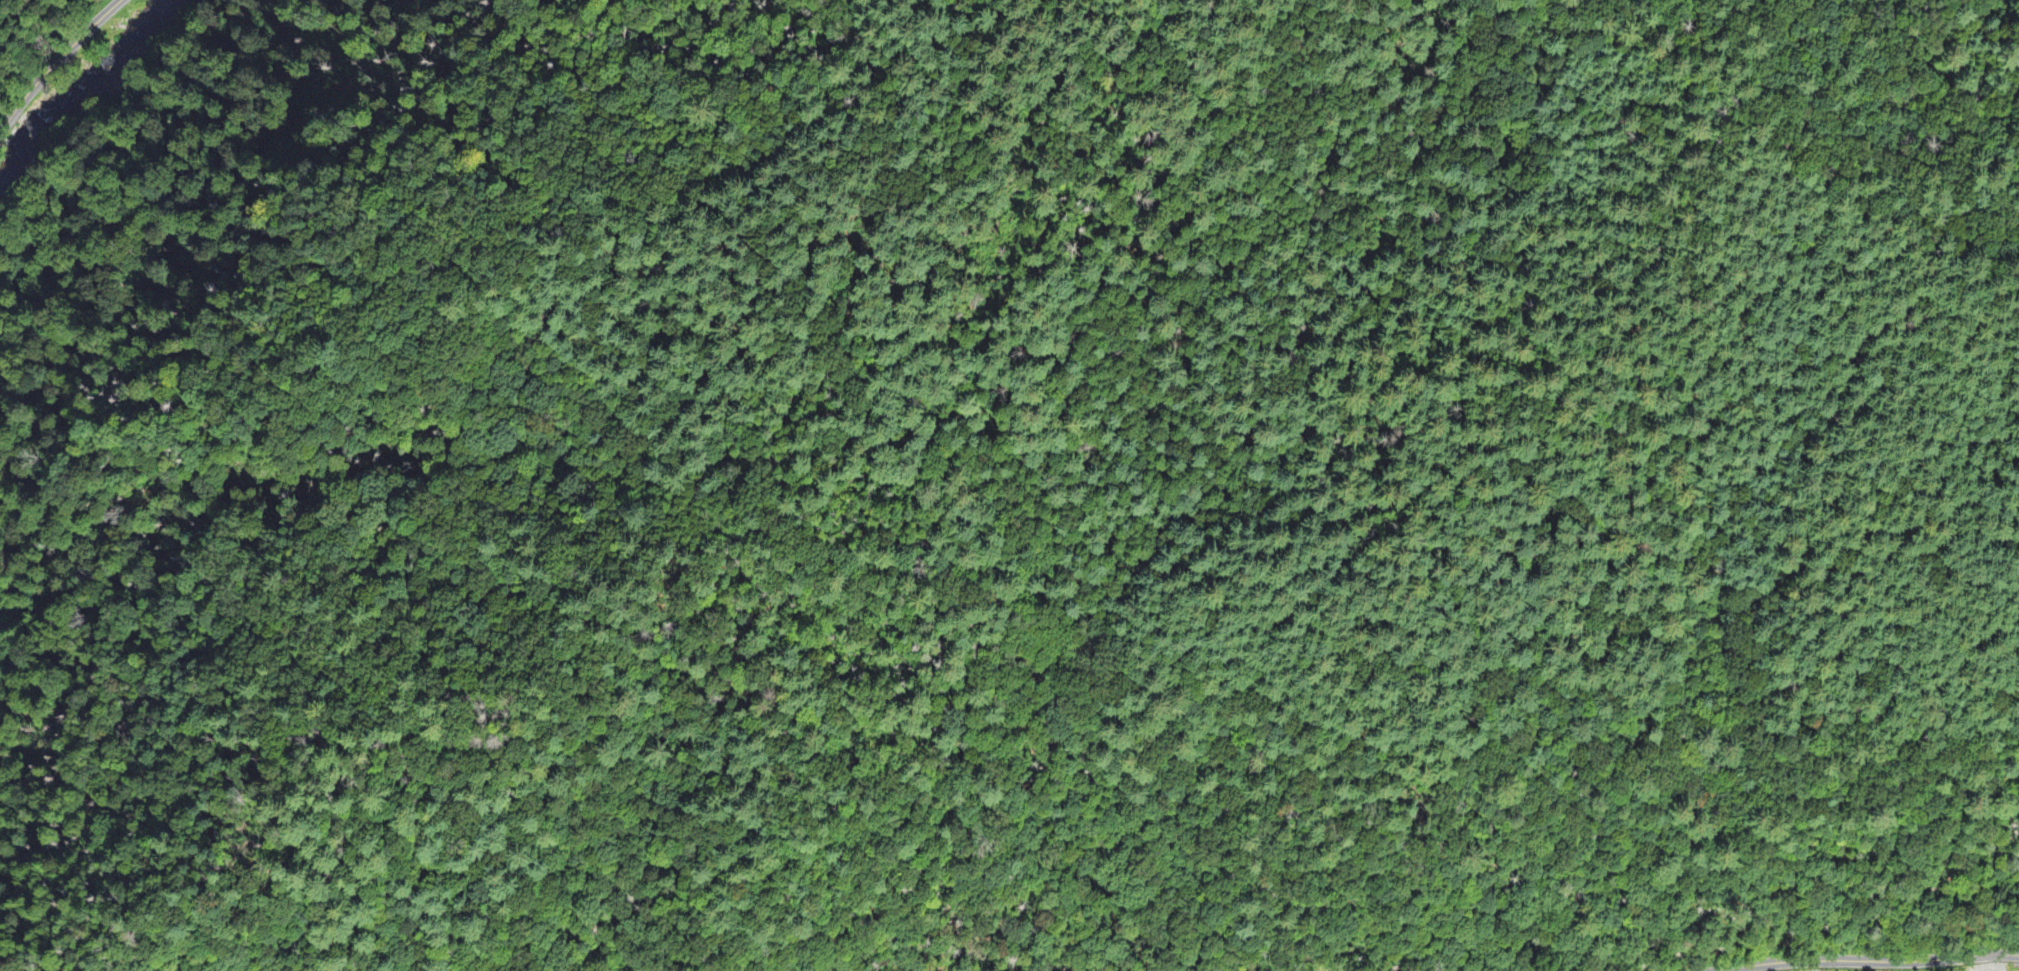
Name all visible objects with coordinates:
road: (56, 61)
river: (75, 94)
road: (1870, 960)

